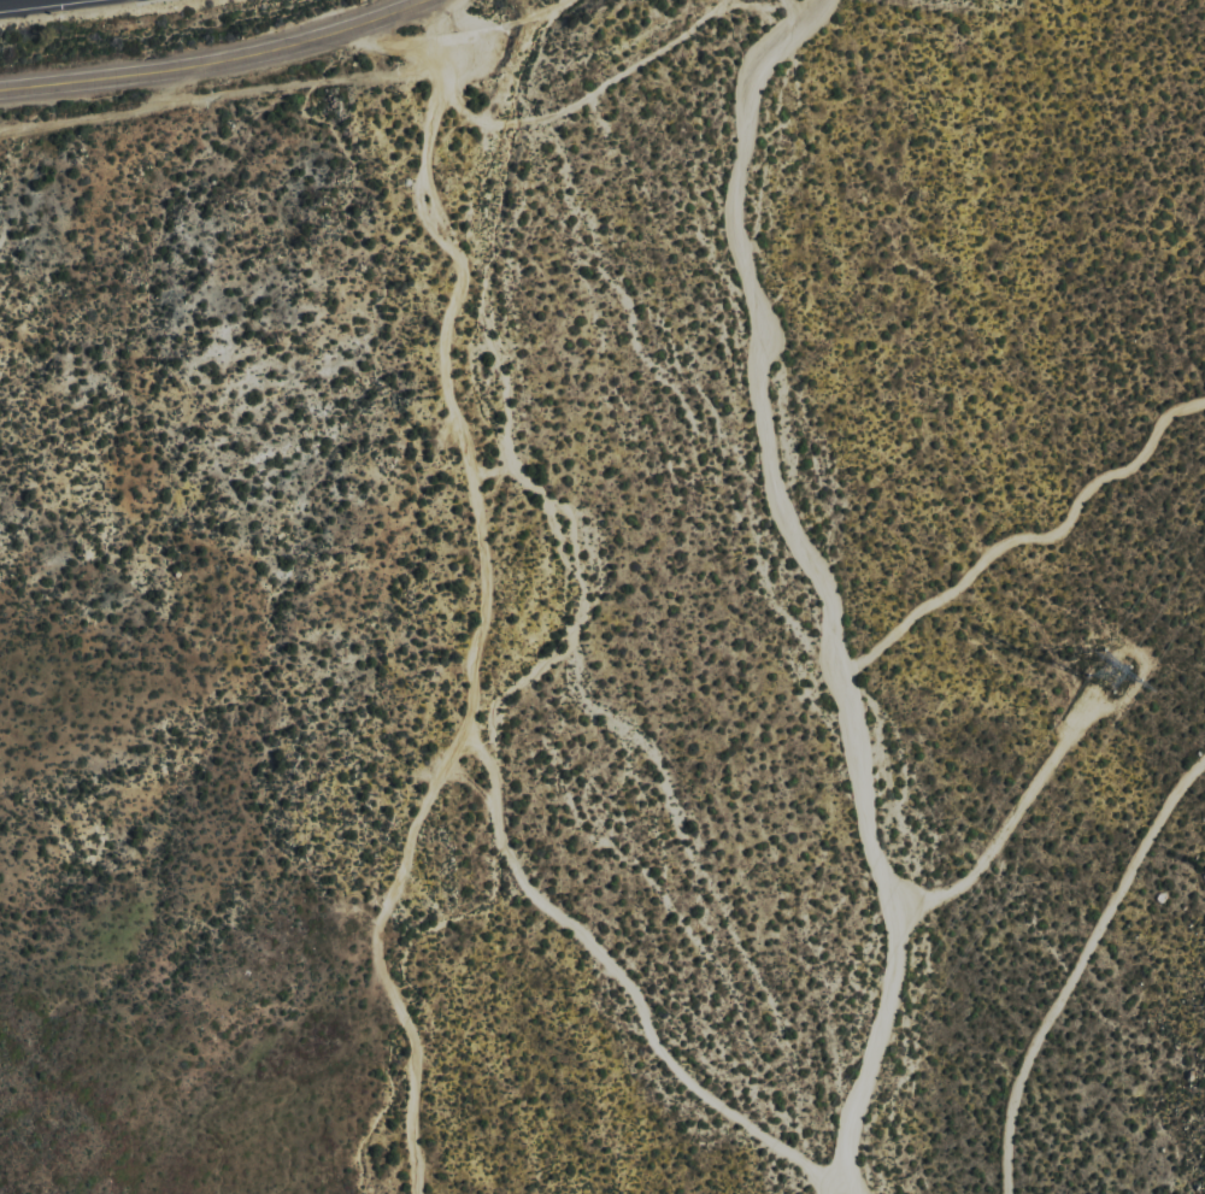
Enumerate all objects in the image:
road: (781, 8)
road: (381, 17)
road: (170, 73)
road: (816, 584)
road: (481, 607)
power tower: (1130, 674)

